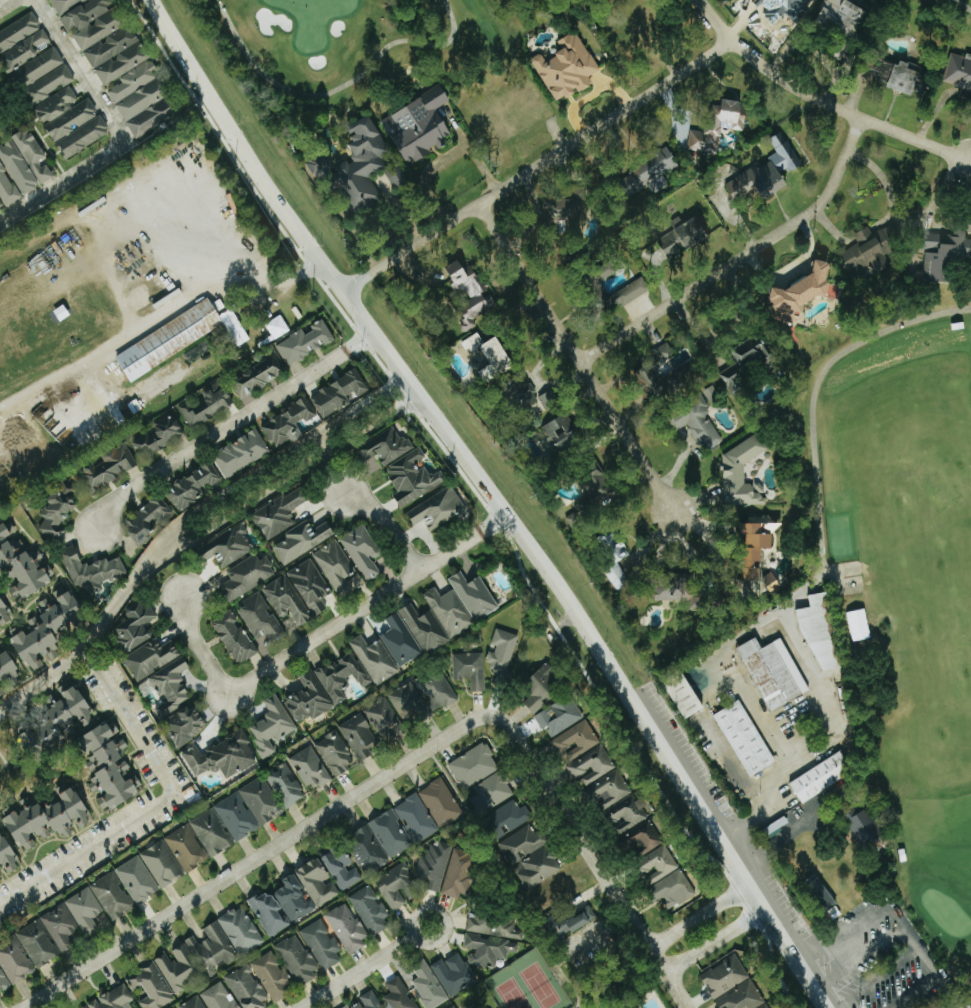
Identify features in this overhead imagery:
road: (6, 4)
road: (964, 5)
building: (793, 7)
park: (953, 12)
park: (314, 18)
building: (838, 23)
building: (19, 32)
building: (104, 35)
park: (342, 45)
building: (563, 64)
building: (37, 67)
road: (78, 70)
building: (957, 70)
building: (899, 73)
road: (340, 86)
road: (825, 100)
building: (143, 101)
building: (507, 117)
building: (70, 121)
building: (416, 124)
building: (719, 125)
building: (24, 161)
road: (543, 166)
building: (358, 167)
building: (650, 171)
building: (768, 171)
road: (61, 179)
building: (6, 188)
building: (568, 211)
road: (886, 218)
building: (684, 237)
building: (871, 250)
building: (947, 254)
road: (746, 257)
road: (793, 265)
road: (211, 286)
building: (633, 291)
building: (471, 293)
crop: (132, 301)
building: (168, 339)
building: (304, 342)
building: (492, 356)
building: (672, 356)
building: (747, 362)
road: (588, 366)
building: (257, 376)
building: (651, 378)
building: (337, 393)
building: (713, 394)
building: (551, 399)
building: (206, 405)
road: (812, 406)
road: (362, 417)
building: (286, 424)
building: (703, 424)
road: (229, 426)
building: (561, 432)
building: (159, 434)
building: (385, 447)
building: (108, 468)
building: (217, 469)
building: (743, 472)
building: (413, 478)
building: (594, 500)
road: (501, 501)
building: (439, 508)
building: (57, 510)
building: (279, 513)
building: (148, 520)
building: (765, 523)
road: (388, 525)
building: (301, 540)
building: (227, 546)
building: (362, 553)
building: (759, 557)
building: (617, 566)
building: (20, 568)
building: (335, 568)
building: (90, 571)
building: (248, 575)
building: (844, 576)
building: (679, 592)
building: (297, 593)
building: (473, 596)
building: (448, 612)
building: (3, 615)
building: (259, 618)
building: (135, 625)
building: (46, 626)
building: (817, 629)
road: (321, 633)
building: (411, 635)
building: (233, 638)
road: (802, 647)
building: (501, 654)
building: (150, 658)
building: (373, 660)
building: (7, 666)
building: (467, 669)
building: (772, 672)
road: (42, 675)
park: (864, 675)
road: (103, 679)
building: (170, 687)
building: (325, 687)
building: (541, 688)
building: (421, 695)
building: (685, 698)
building: (558, 716)
building: (382, 719)
building: (56, 722)
building: (185, 726)
building: (270, 727)
building: (359, 737)
building: (743, 738)
building: (574, 741)
building: (334, 754)
building: (221, 757)
building: (590, 765)
building: (107, 769)
building: (309, 769)
building: (819, 776)
building: (284, 786)
building: (487, 789)
building: (260, 801)
building: (439, 802)
building: (617, 802)
building: (47, 815)
building: (235, 816)
building: (861, 825)
building: (402, 826)
building: (209, 832)
building: (640, 838)
building: (520, 843)
building: (184, 847)
building: (365, 850)
road: (599, 855)
road: (255, 860)
building: (161, 863)
building: (432, 864)
building: (340, 867)
building: (536, 867)
building: (457, 873)
building: (665, 877)
building: (136, 880)
building: (316, 882)
road: (755, 886)
building: (396, 887)
building: (111, 896)
building: (280, 905)
building: (84, 910)
building: (369, 910)
road: (697, 914)
building: (569, 922)
building: (59, 926)
building: (345, 928)
building: (239, 930)
road: (847, 933)
building: (489, 938)
road: (715, 938)
building: (36, 944)
building: (208, 950)
road: (861, 955)
road: (924, 955)
building: (295, 959)
building: (14, 961)
road: (367, 968)
building: (175, 969)
building: (452, 974)
road: (622, 975)
building: (270, 977)
road: (878, 978)
building: (3, 982)
building: (731, 984)
building: (426, 985)
building: (149, 986)
building: (245, 988)
road: (914, 992)
building: (216, 997)
building: (112, 998)
building: (191, 1003)
building: (764, 1006)
building: (83, 1007)
building: (452, 1007)

